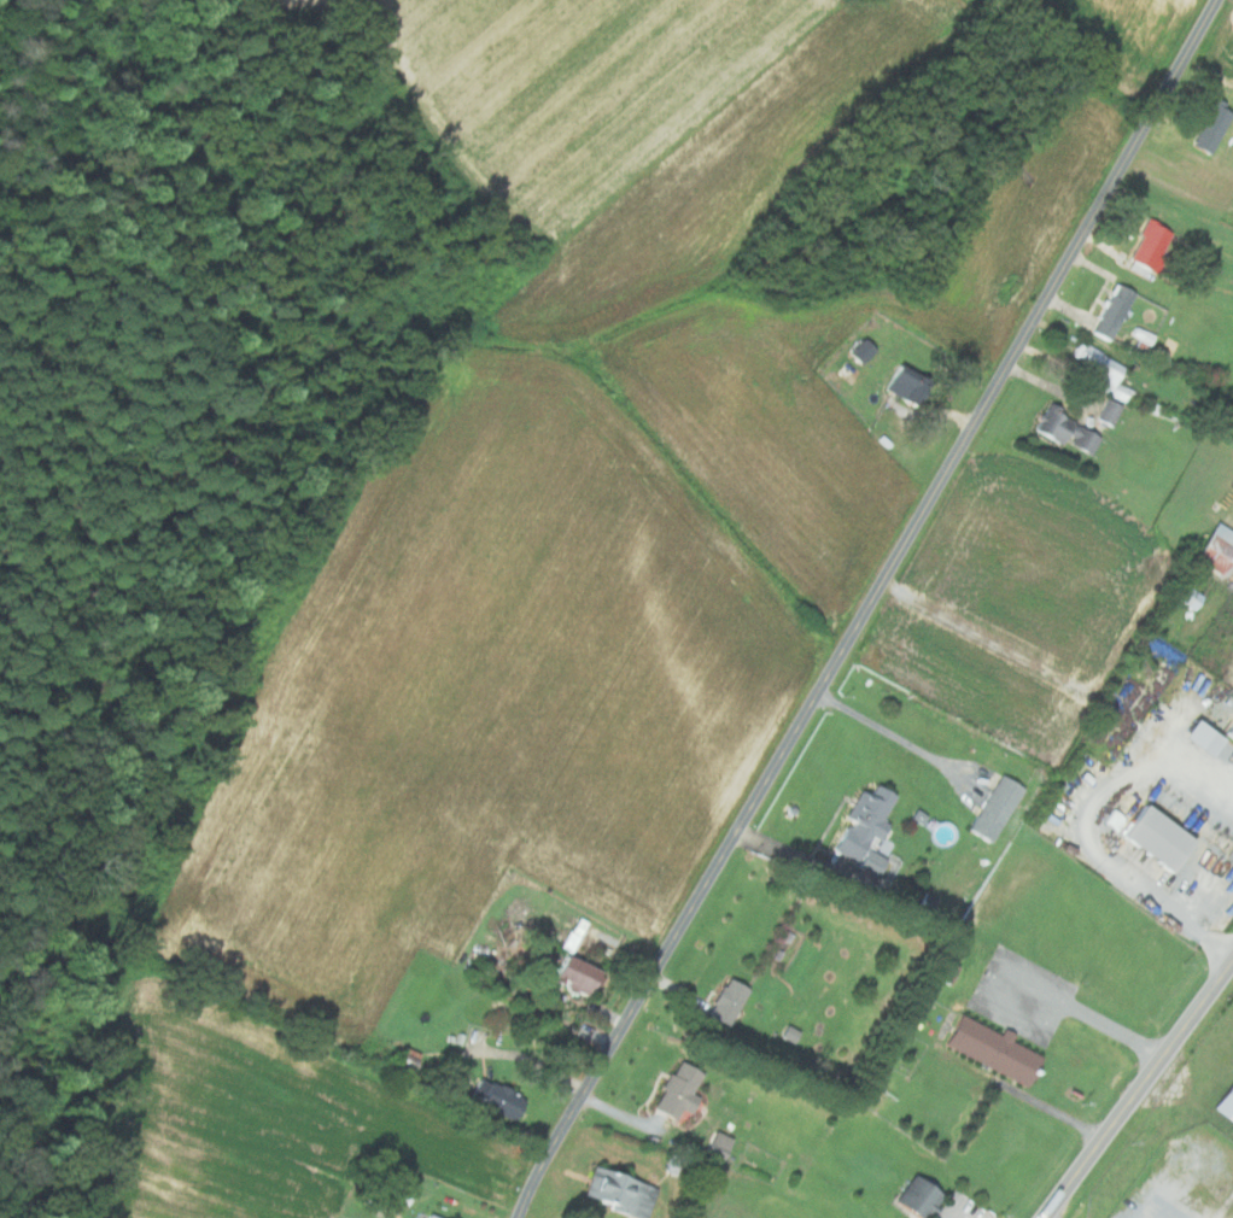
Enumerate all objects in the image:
building: (1209, 128)
building: (1147, 245)
building: (1111, 311)
building: (1100, 370)
building: (904, 385)
building: (1108, 411)
building: (1214, 547)
road: (867, 609)
building: (1228, 730)
road: (894, 736)
building: (1198, 737)
building: (982, 773)
building: (994, 808)
building: (861, 821)
road: (1089, 832)
building: (1155, 837)
building: (870, 861)
building: (946, 972)
building: (573, 973)
road: (988, 985)
building: (725, 1001)
road: (1115, 1029)
building: (991, 1049)
building: (676, 1091)
road: (1140, 1091)
building: (499, 1101)
building: (1225, 1103)
building: (717, 1143)
building: (618, 1190)
building: (916, 1196)
building: (384, 1208)
building: (428, 1216)

